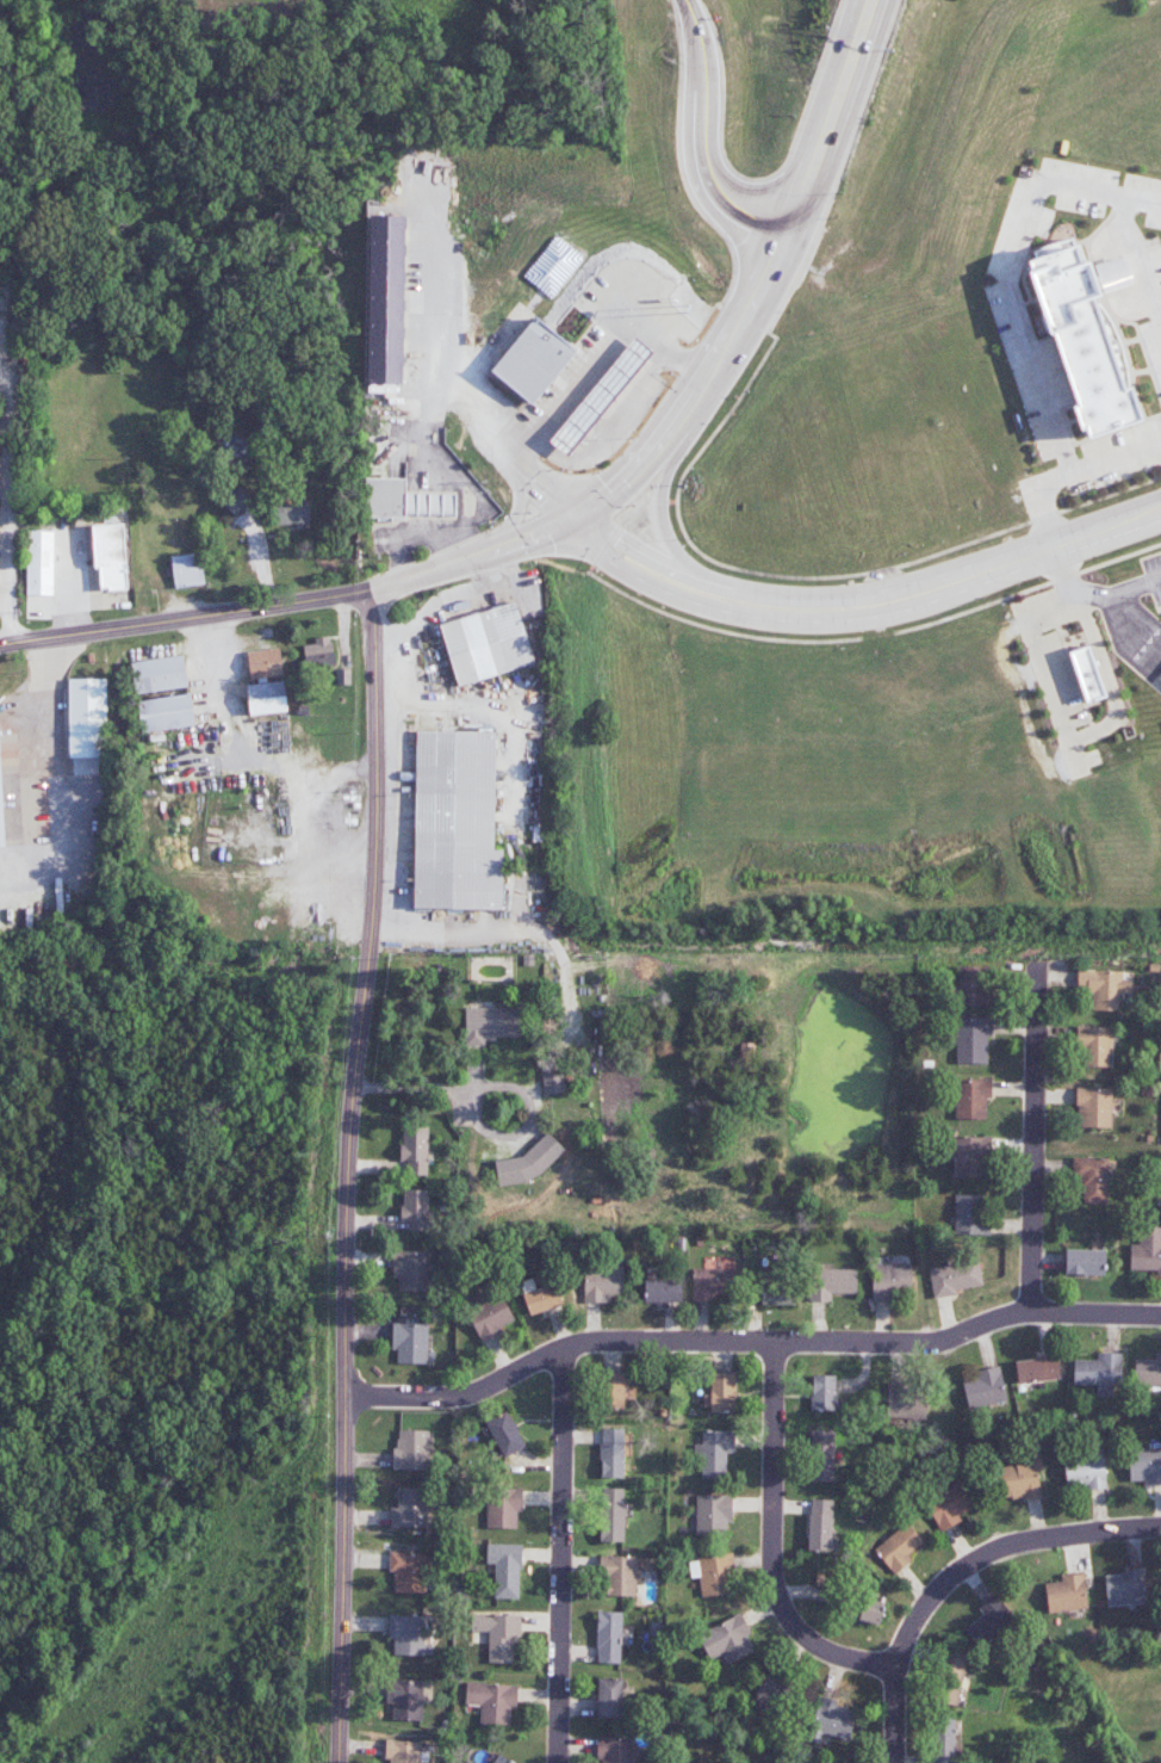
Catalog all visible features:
road: (856, 20)
road: (17, 72)
road: (831, 113)
road: (707, 136)
road: (1138, 258)
road: (1011, 266)
road: (1110, 273)
building: (385, 299)
building: (1084, 339)
building: (533, 360)
road: (442, 373)
road: (577, 385)
building: (601, 396)
road: (479, 419)
road: (1116, 457)
road: (657, 493)
road: (13, 500)
building: (236, 500)
building: (404, 500)
building: (292, 513)
road: (1146, 520)
road: (420, 534)
road: (1054, 538)
building: (110, 556)
road: (470, 558)
building: (39, 562)
building: (186, 570)
road: (1135, 587)
road: (445, 599)
road: (867, 607)
road: (1132, 629)
building: (486, 643)
building: (318, 652)
road: (1042, 661)
building: (265, 663)
building: (159, 674)
building: (1088, 674)
building: (1160, 676)
building: (1160, 679)
road: (1110, 680)
building: (266, 697)
building: (166, 712)
building: (86, 717)
road: (237, 751)
building: (1, 817)
building: (455, 822)
road: (458, 930)
building: (973, 985)
building: (1104, 988)
building: (492, 1023)
building: (973, 1039)
building: (1095, 1046)
building: (552, 1078)
road: (508, 1085)
building: (973, 1097)
building: (1093, 1107)
building: (415, 1149)
building: (970, 1156)
road: (1041, 1159)
road: (346, 1175)
building: (1092, 1180)
building: (415, 1208)
building: (970, 1214)
building: (1146, 1249)
building: (1085, 1262)
building: (411, 1270)
building: (954, 1278)
building: (890, 1280)
building: (833, 1282)
building: (602, 1283)
building: (713, 1283)
building: (663, 1291)
building: (772, 1291)
building: (542, 1299)
building: (491, 1319)
building: (410, 1342)
road: (747, 1347)
building: (1037, 1368)
building: (1148, 1372)
building: (1099, 1373)
building: (985, 1388)
building: (720, 1392)
building: (822, 1392)
building: (616, 1393)
building: (905, 1400)
building: (505, 1434)
building: (411, 1450)
building: (611, 1453)
building: (714, 1453)
building: (822, 1455)
building: (1146, 1466)
building: (1085, 1472)
building: (1022, 1478)
building: (950, 1505)
building: (410, 1508)
building: (503, 1508)
building: (611, 1514)
building: (713, 1514)
building: (820, 1526)
road: (770, 1546)
building: (899, 1547)
road: (563, 1554)
building: (505, 1569)
building: (408, 1571)
road: (957, 1571)
building: (715, 1573)
building: (619, 1576)
building: (1125, 1588)
building: (1067, 1594)
building: (870, 1600)
building: (989, 1621)
building: (497, 1633)
building: (409, 1635)
building: (609, 1637)
building: (728, 1641)
building: (952, 1680)
building: (771, 1690)
building: (609, 1697)
building: (408, 1700)
building: (492, 1701)
building: (943, 1740)
building: (614, 1750)
building: (404, 1751)
building: (501, 1759)

